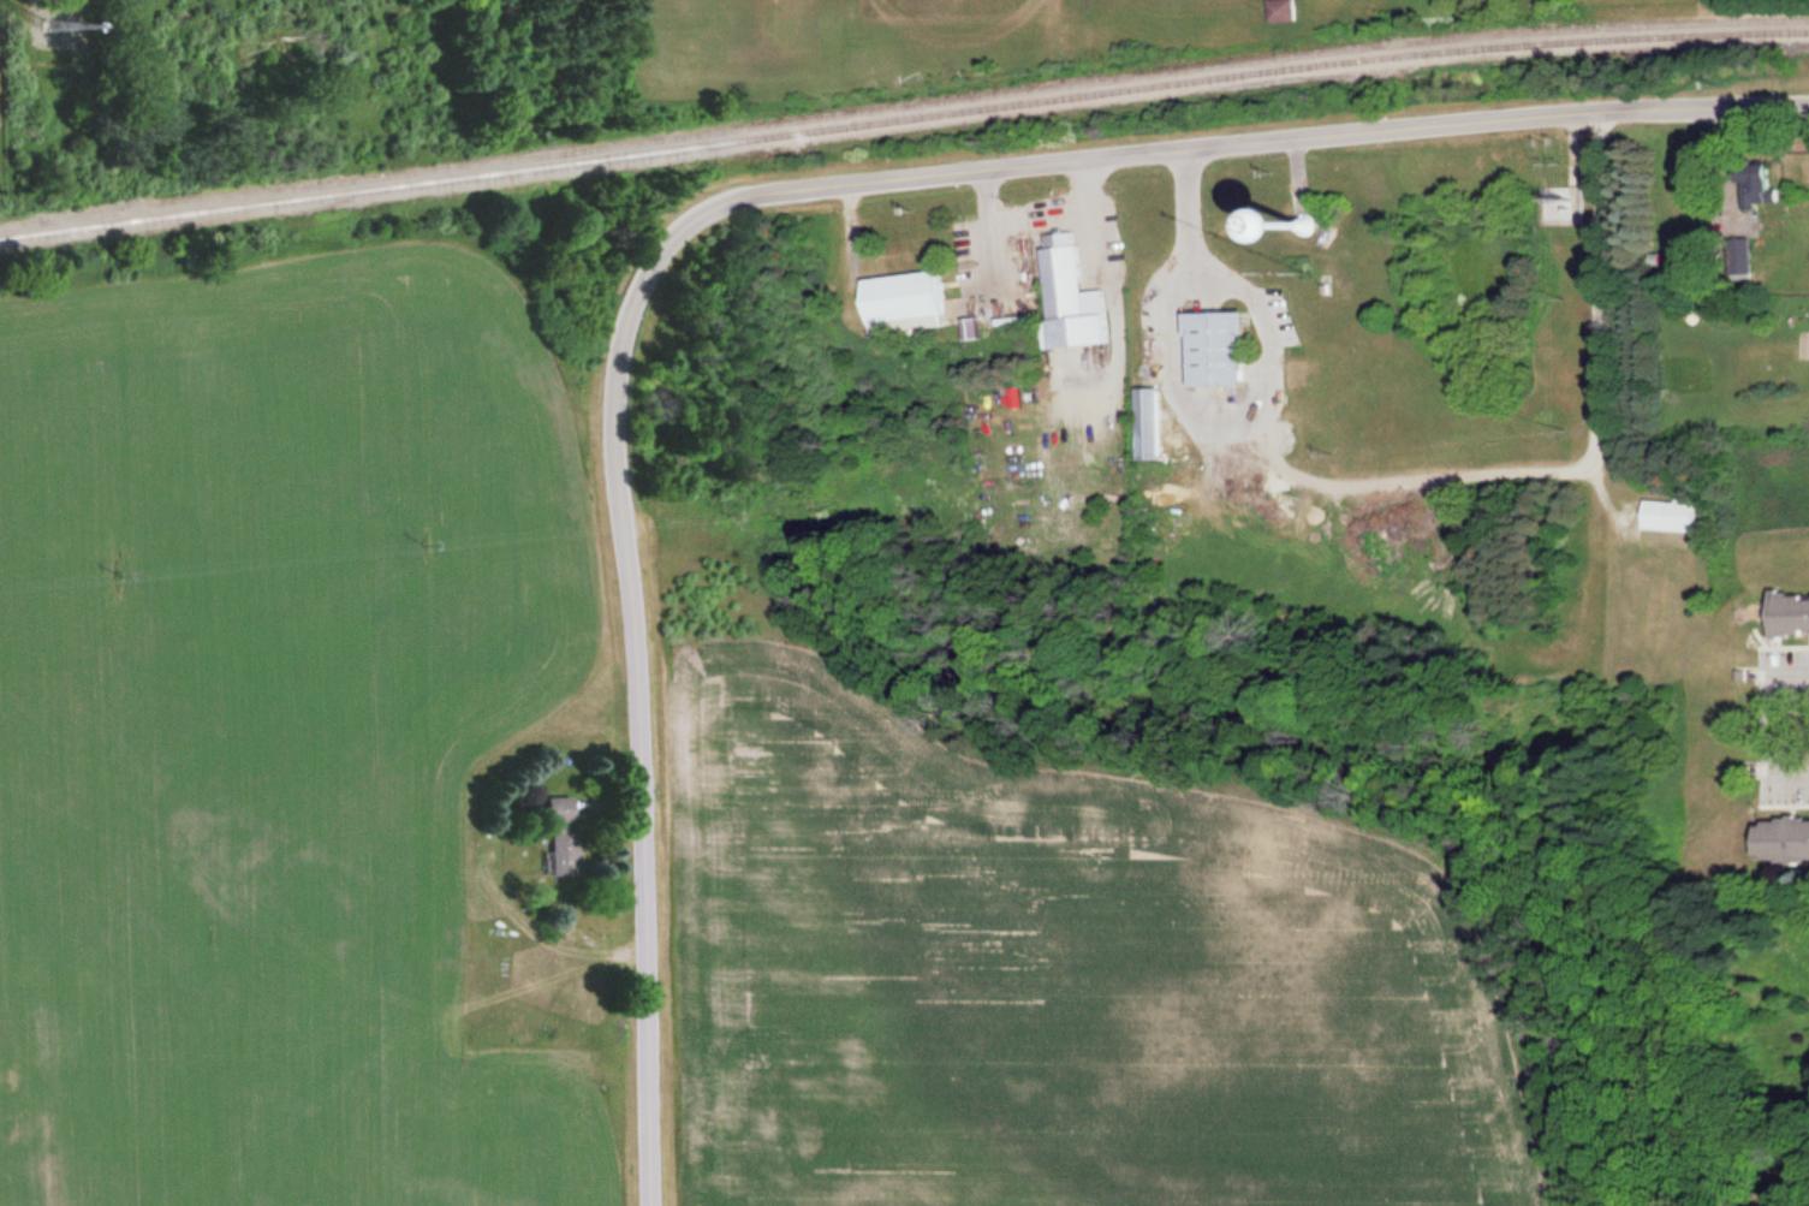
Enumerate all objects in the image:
building: (1289, 10)
park: (936, 36)
railway: (903, 105)
railway: (903, 117)
building: (1772, 183)
road: (740, 194)
building: (1358, 220)
water tower: (1310, 224)
building: (914, 295)
building: (1082, 295)
building: (1227, 347)
building: (1156, 422)
building: (1678, 515)
building: (1792, 613)
building: (561, 831)
building: (1789, 839)

